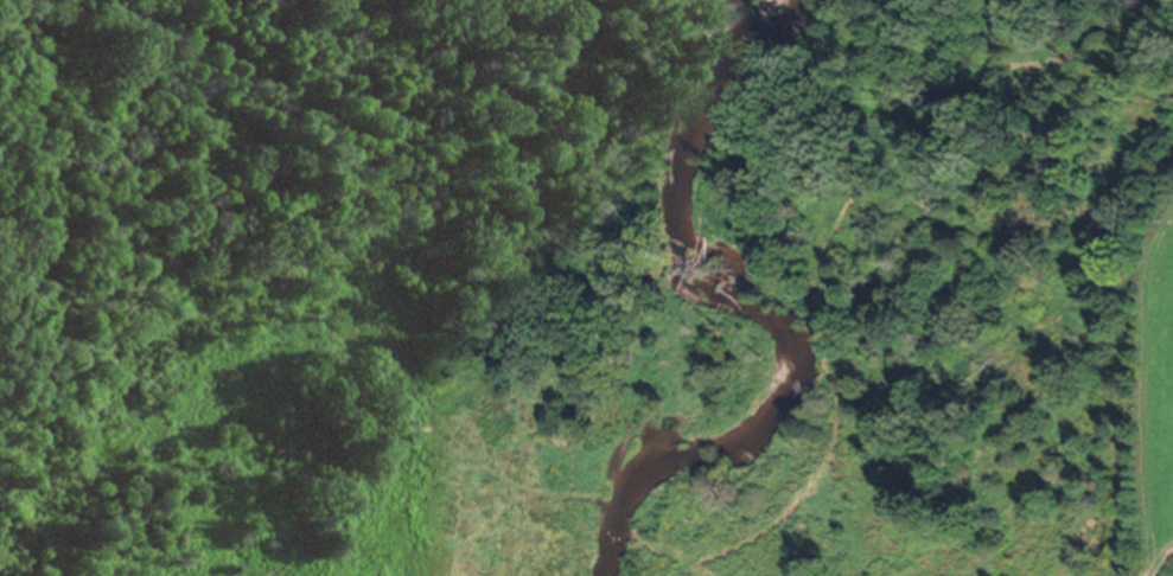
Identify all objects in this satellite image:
river: (737, 79)
river: (732, 196)
river: (697, 388)
river: (629, 546)

